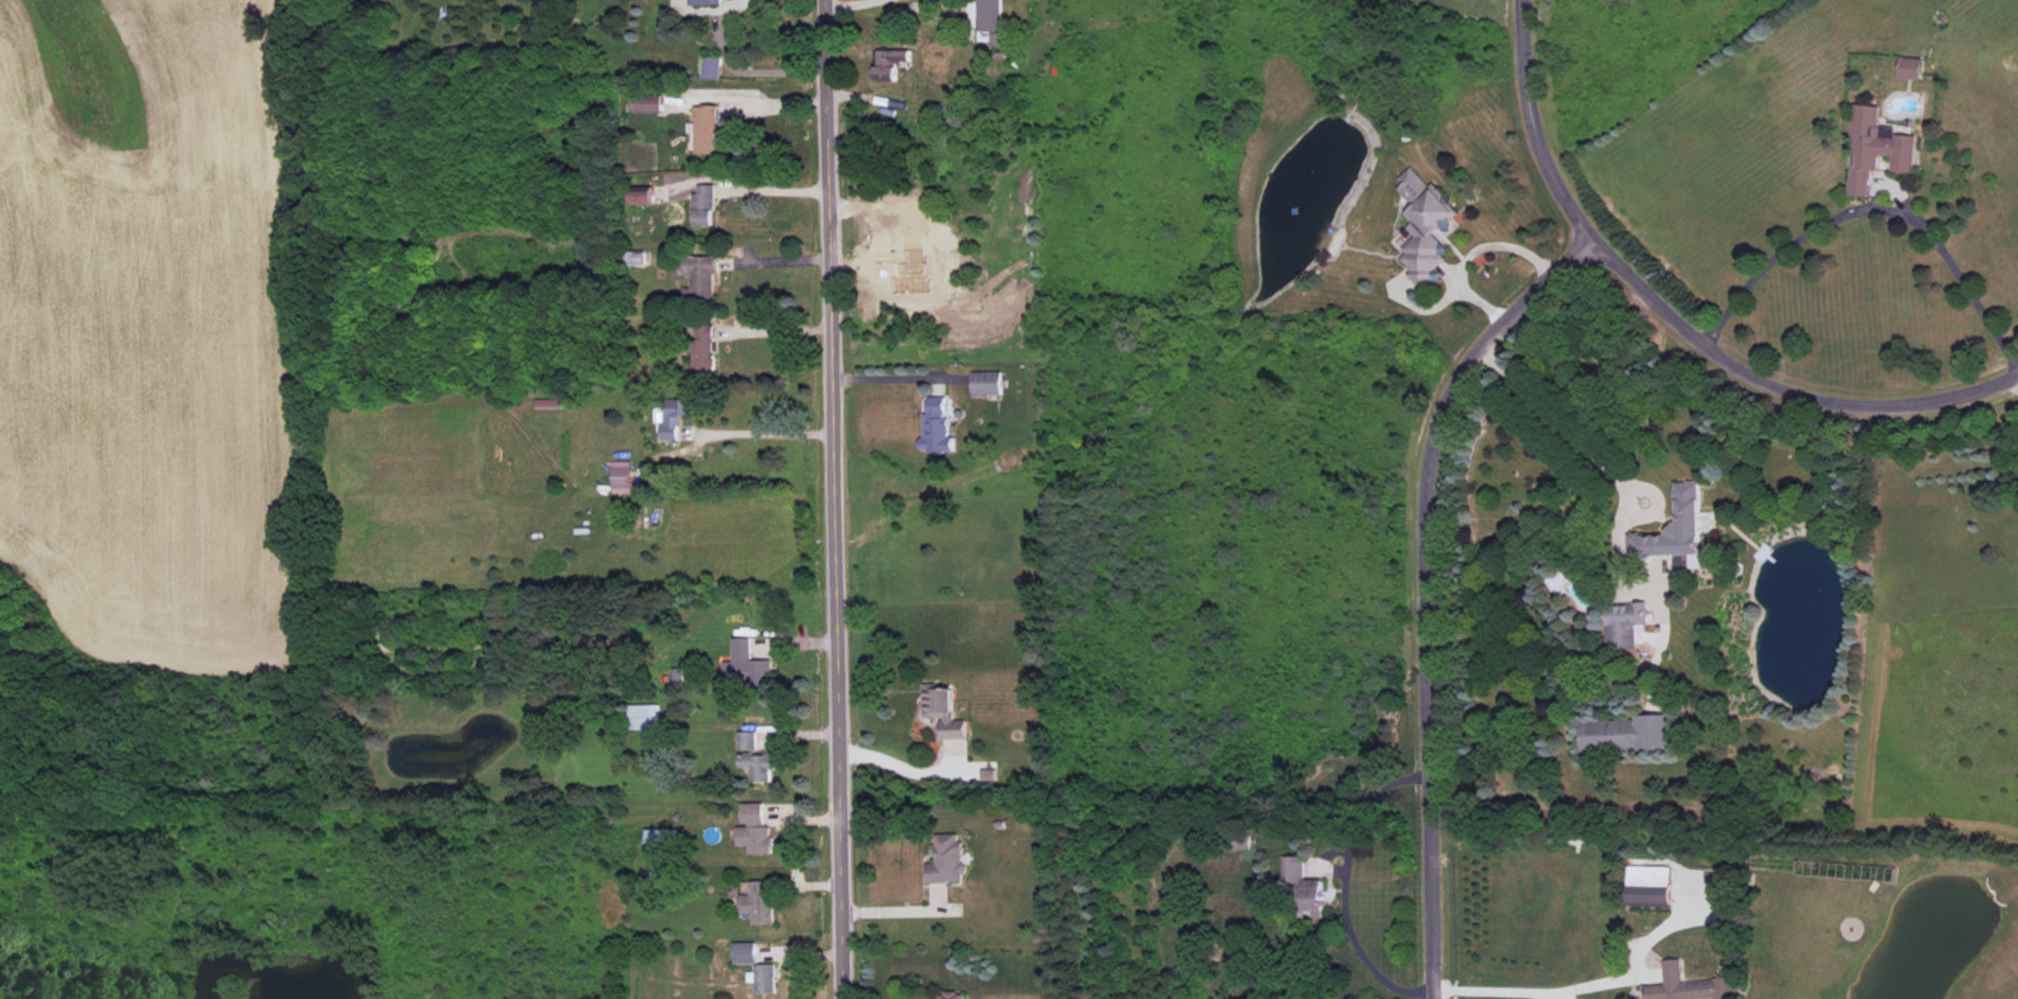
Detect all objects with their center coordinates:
building: (704, 2)
building: (991, 19)
building: (890, 63)
building: (1905, 63)
building: (711, 66)
road: (739, 67)
road: (744, 102)
building: (648, 103)
building: (705, 128)
building: (1868, 150)
road: (763, 190)
building: (642, 197)
building: (703, 205)
road: (1874, 209)
building: (1416, 223)
road: (1470, 253)
building: (635, 257)
road: (775, 261)
building: (699, 276)
road: (1675, 318)
crop: (151, 328)
road: (776, 332)
building: (704, 347)
road: (2016, 376)
road: (885, 379)
building: (986, 382)
building: (548, 403)
building: (672, 417)
road: (1550, 420)
building: (936, 426)
road: (765, 434)
building: (621, 476)
road: (833, 499)
building: (1664, 530)
road: (1423, 589)
building: (1617, 621)
building: (744, 664)
building: (942, 710)
building: (644, 716)
building: (1618, 734)
building: (746, 740)
road: (889, 761)
building: (757, 765)
building: (988, 775)
building: (754, 829)
building: (659, 840)
building: (947, 859)
building: (1296, 883)
building: (1650, 886)
building: (758, 903)
road: (900, 912)
building: (744, 952)
building: (763, 978)
building: (1673, 986)
road: (1574, 989)
building: (950, 995)

